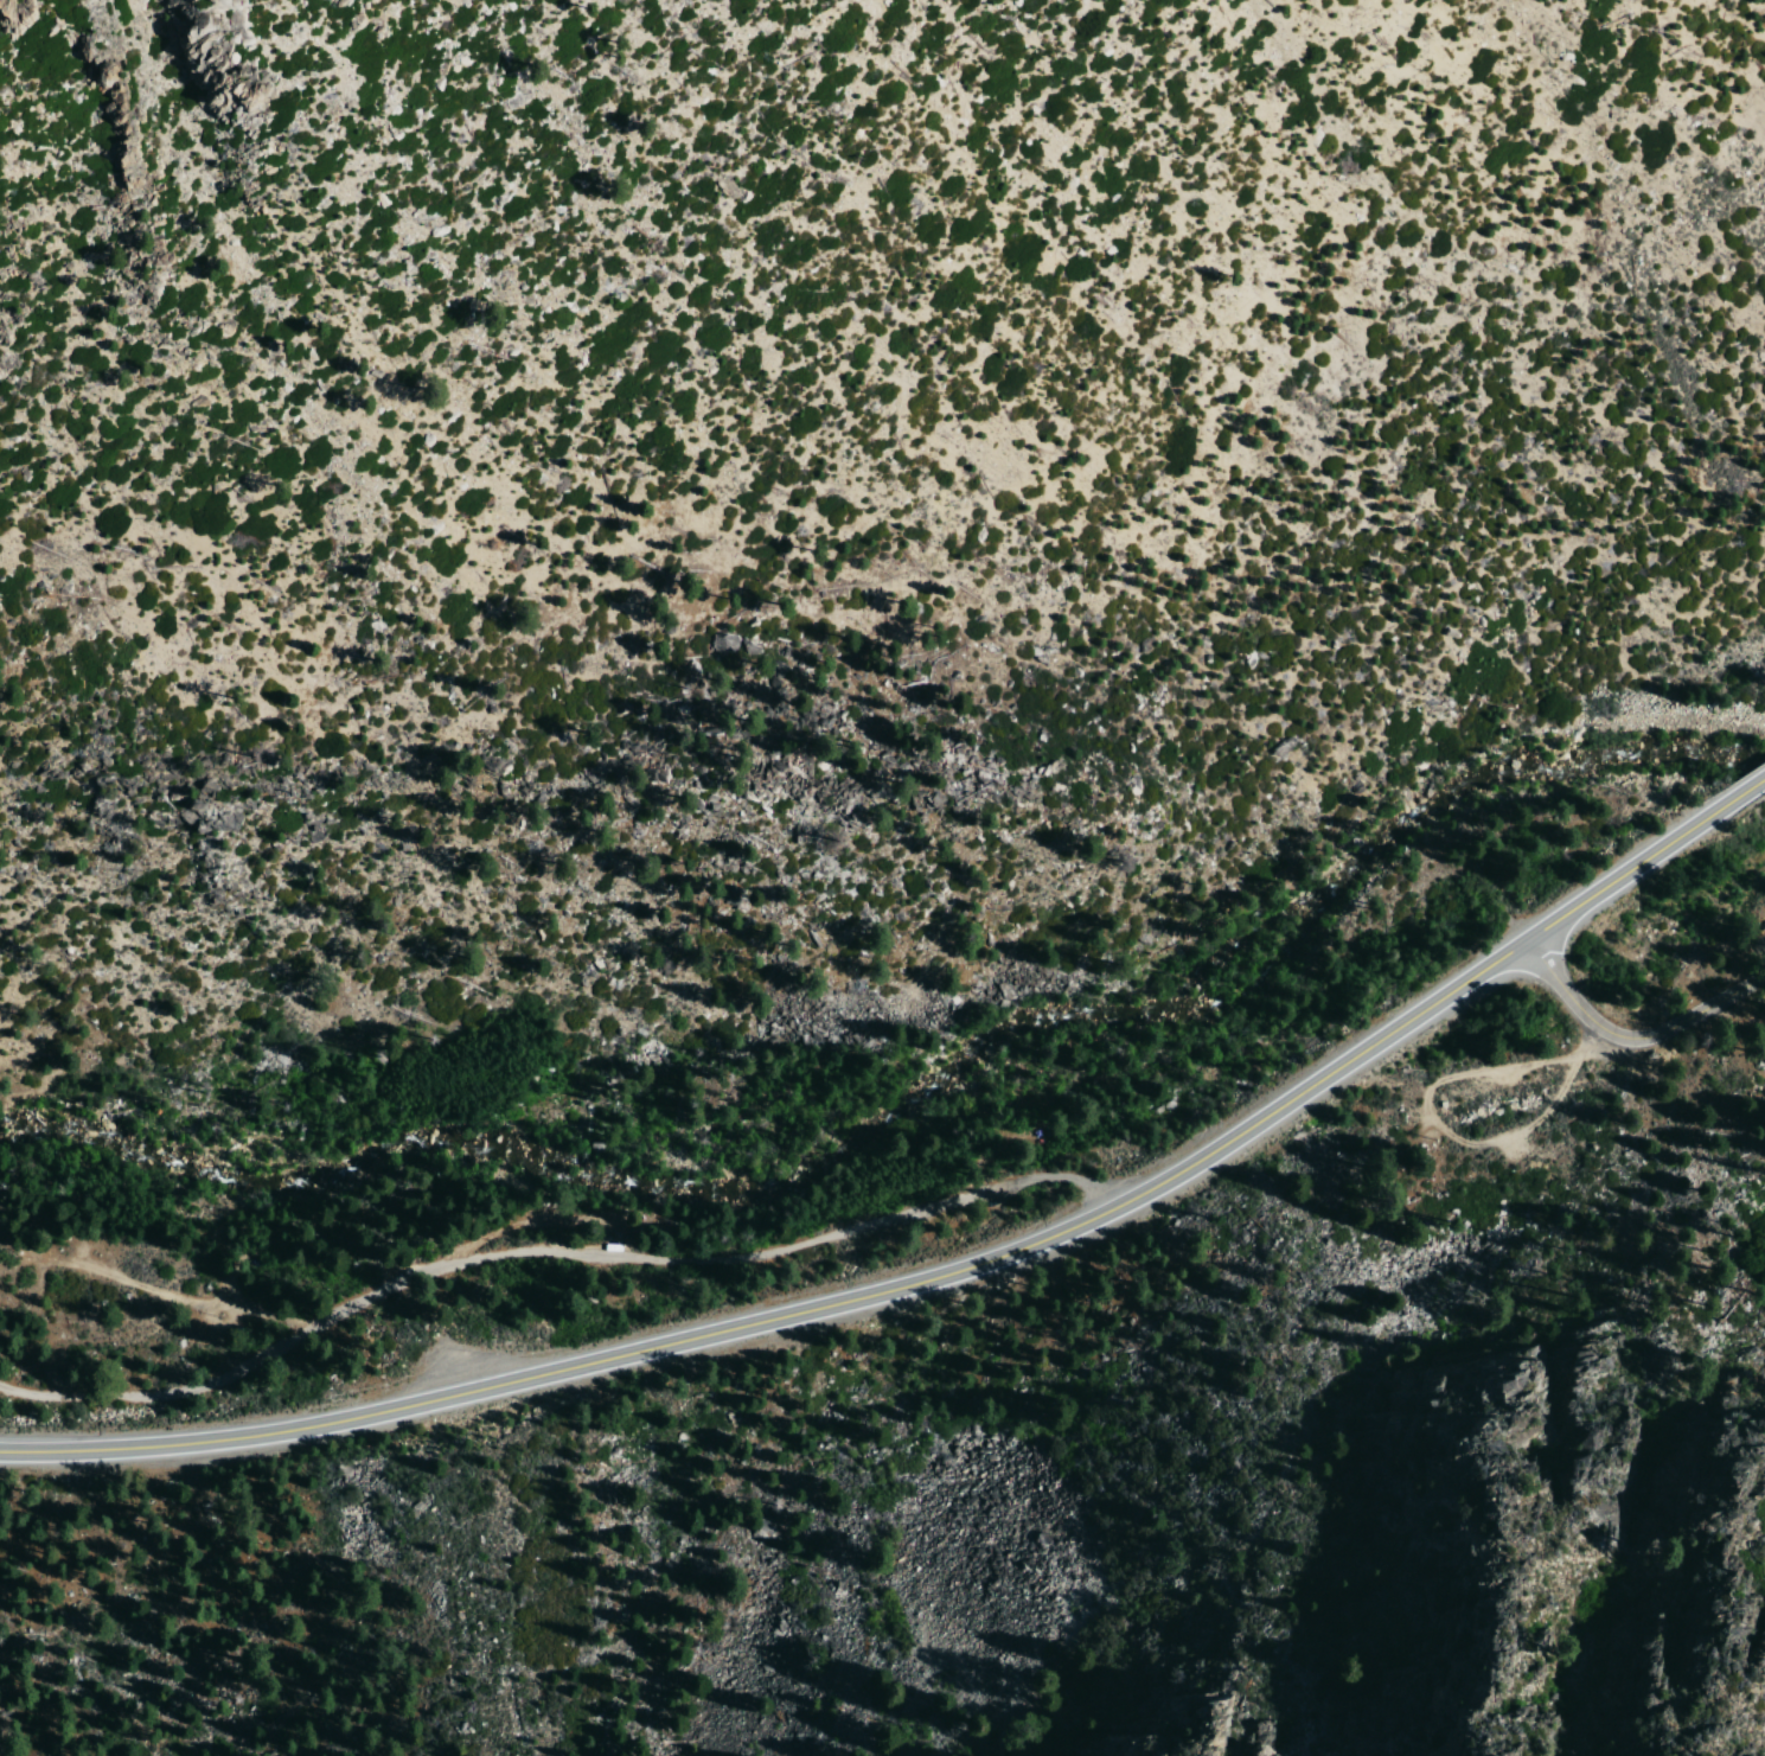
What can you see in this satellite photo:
road: (1760, 784)
road: (1630, 1035)
river: (913, 1096)
road: (1443, 1129)
road: (549, 1253)
road: (938, 1277)
road: (171, 1295)
parking lot: (471, 1352)

